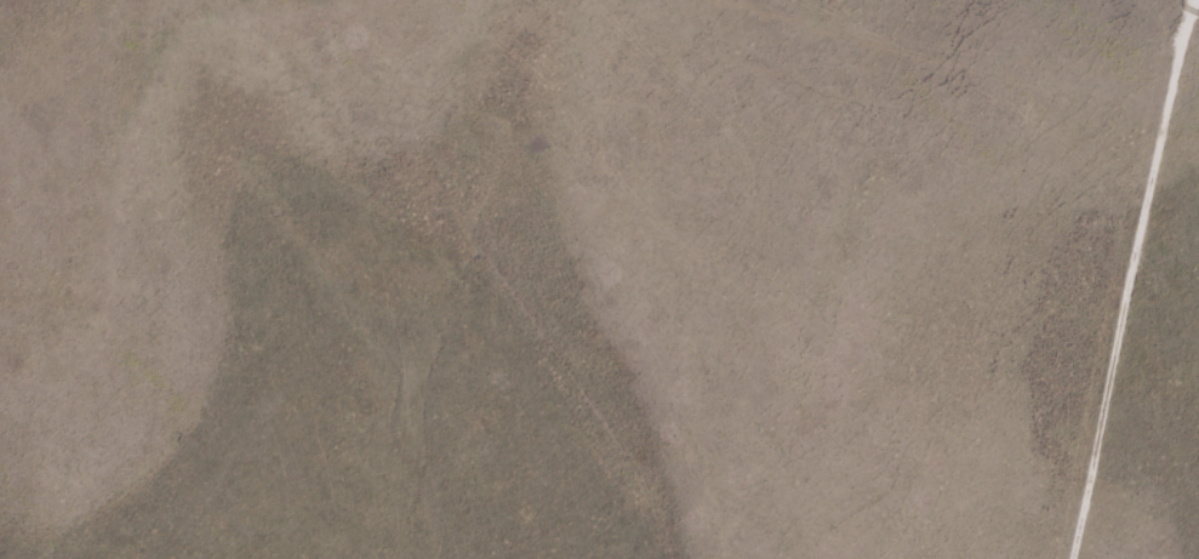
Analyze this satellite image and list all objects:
road: (1136, 279)

